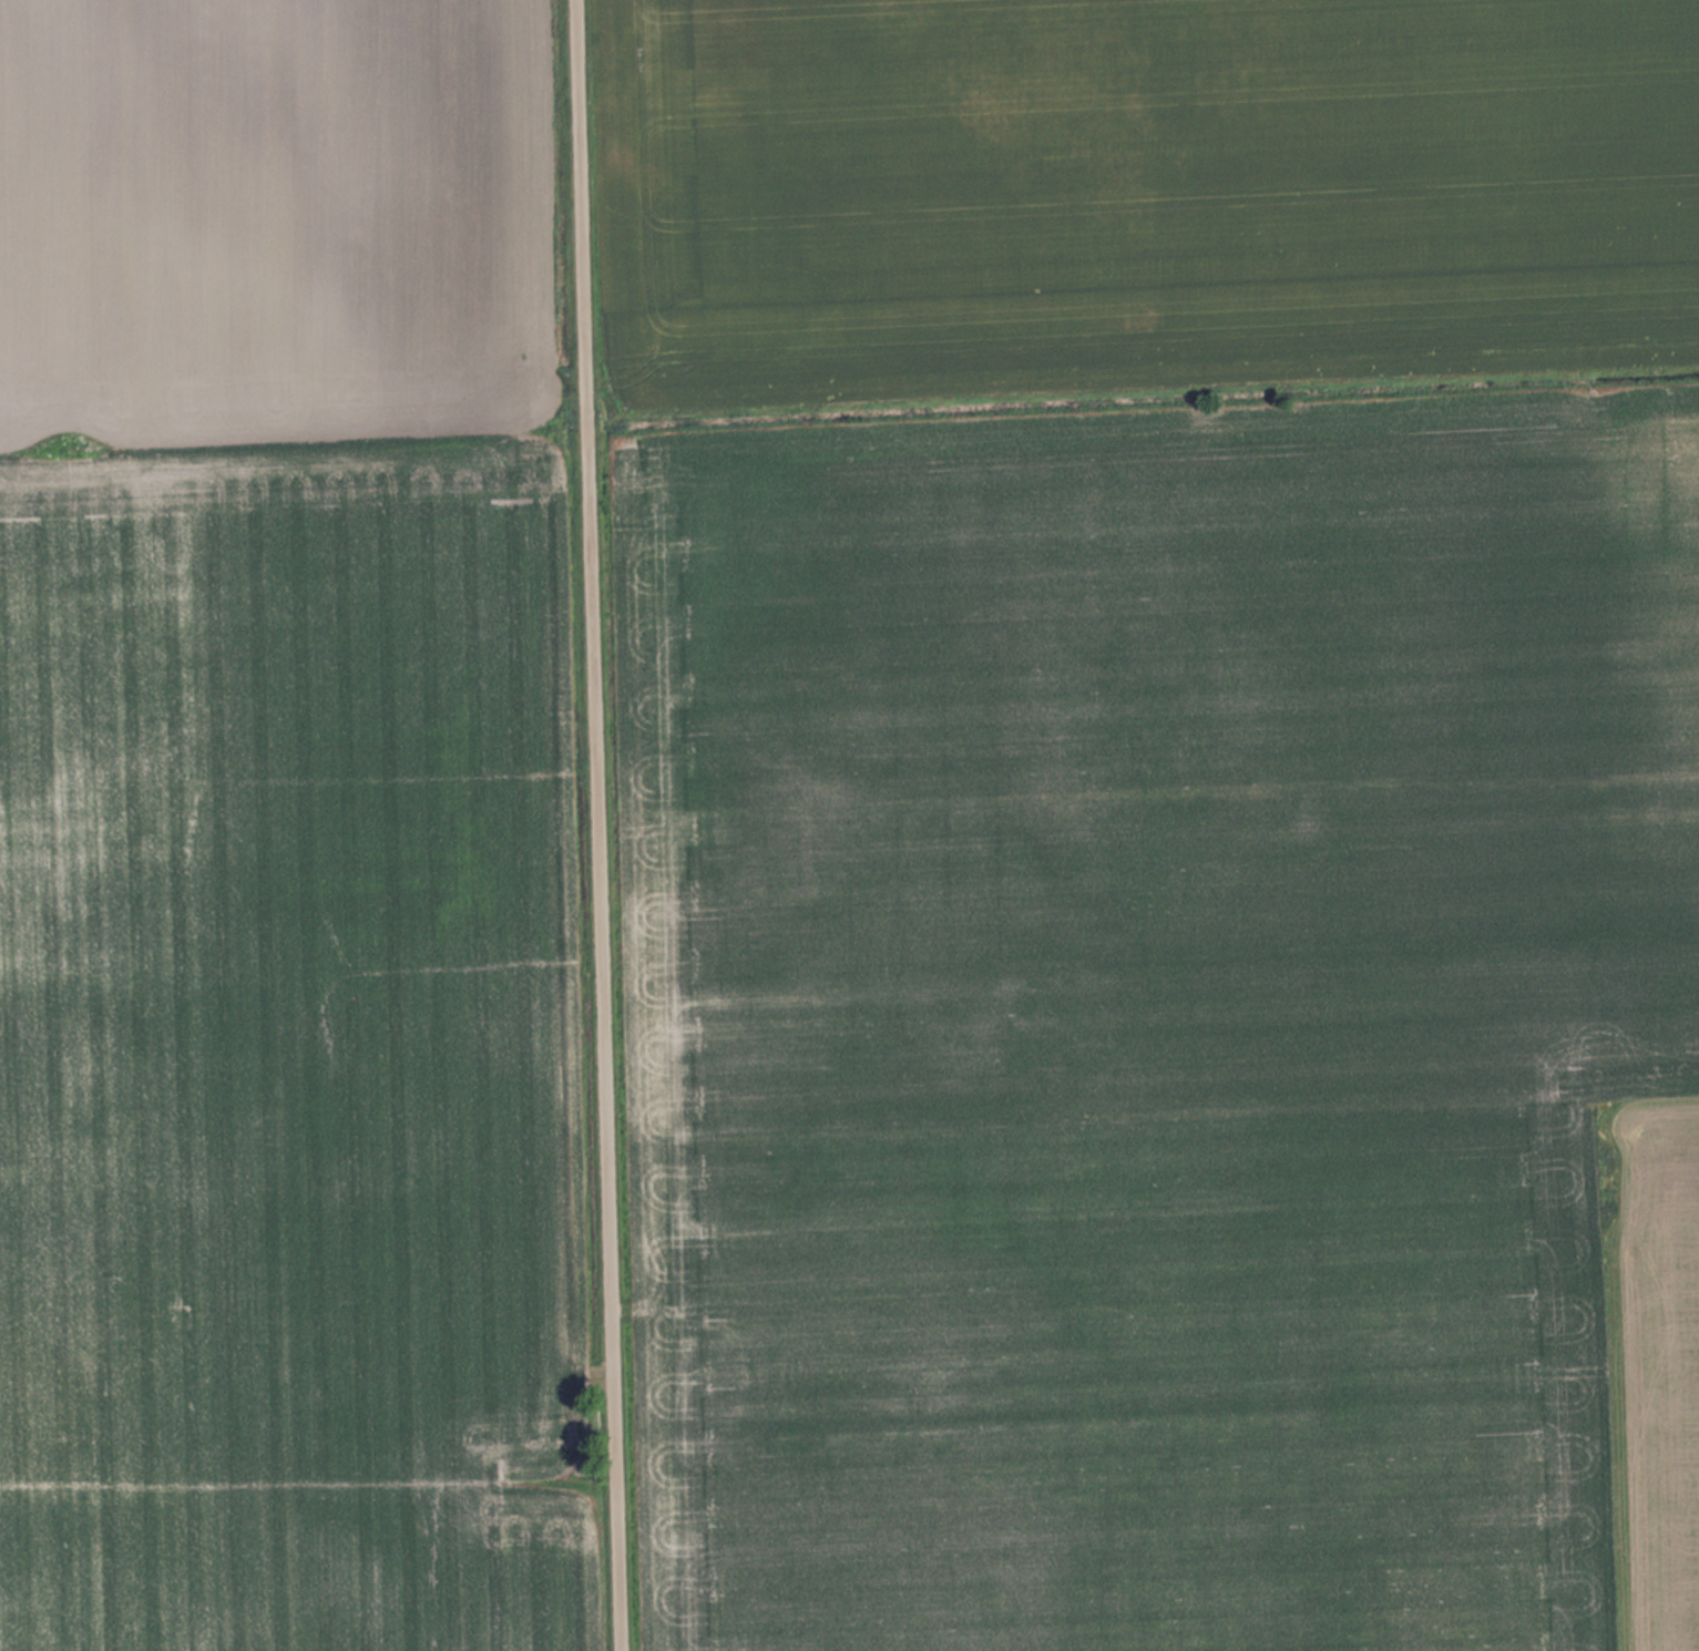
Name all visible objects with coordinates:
road: (595, 824)

